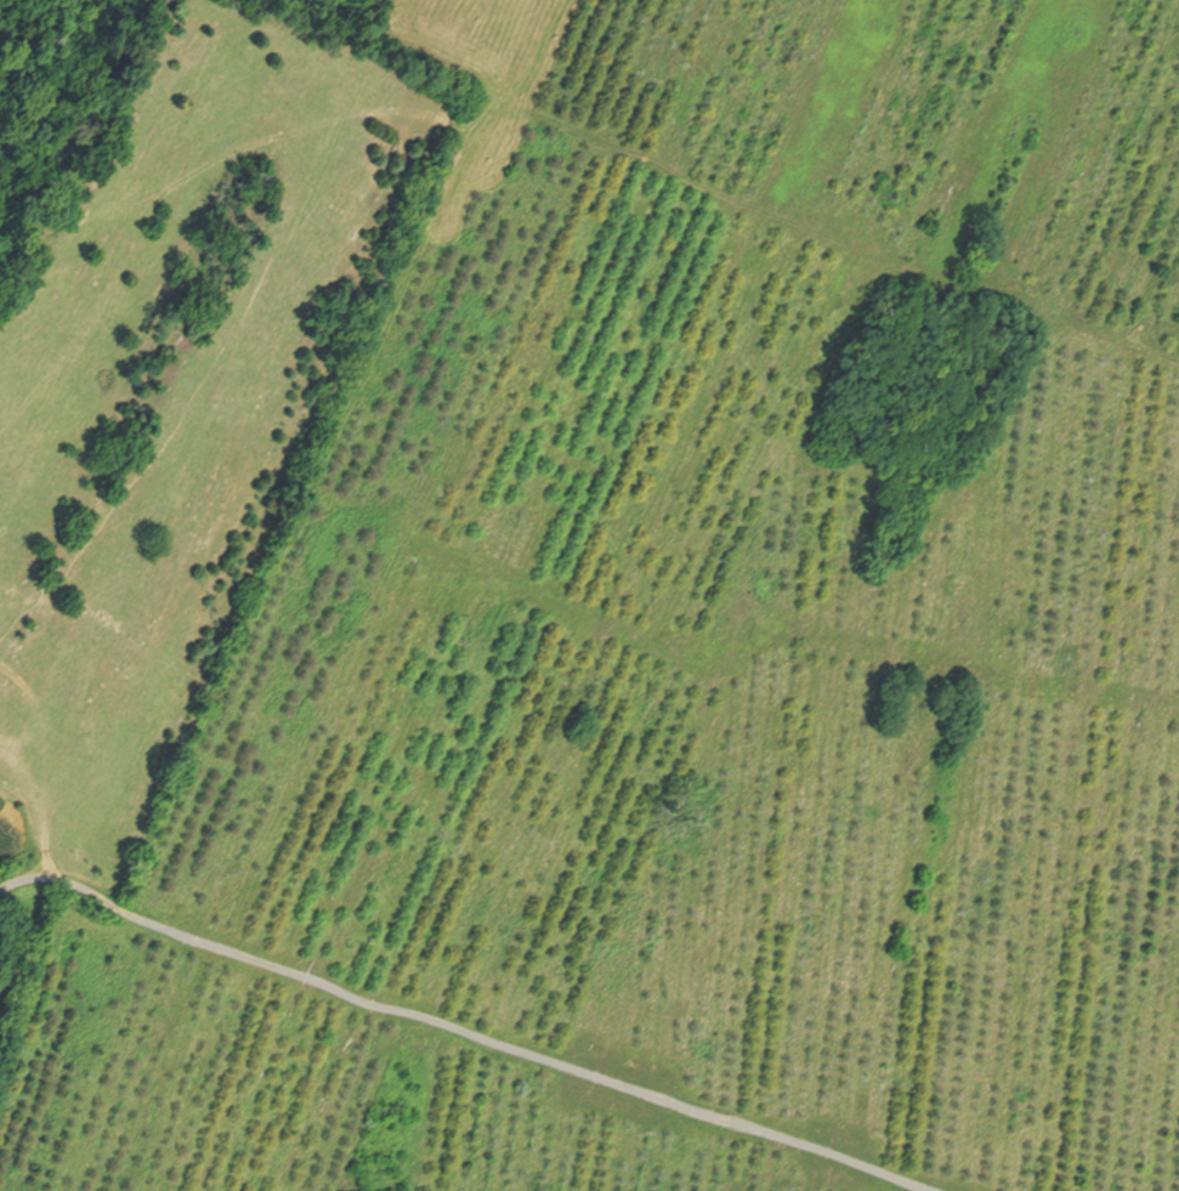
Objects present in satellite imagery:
road: (466, 1032)

